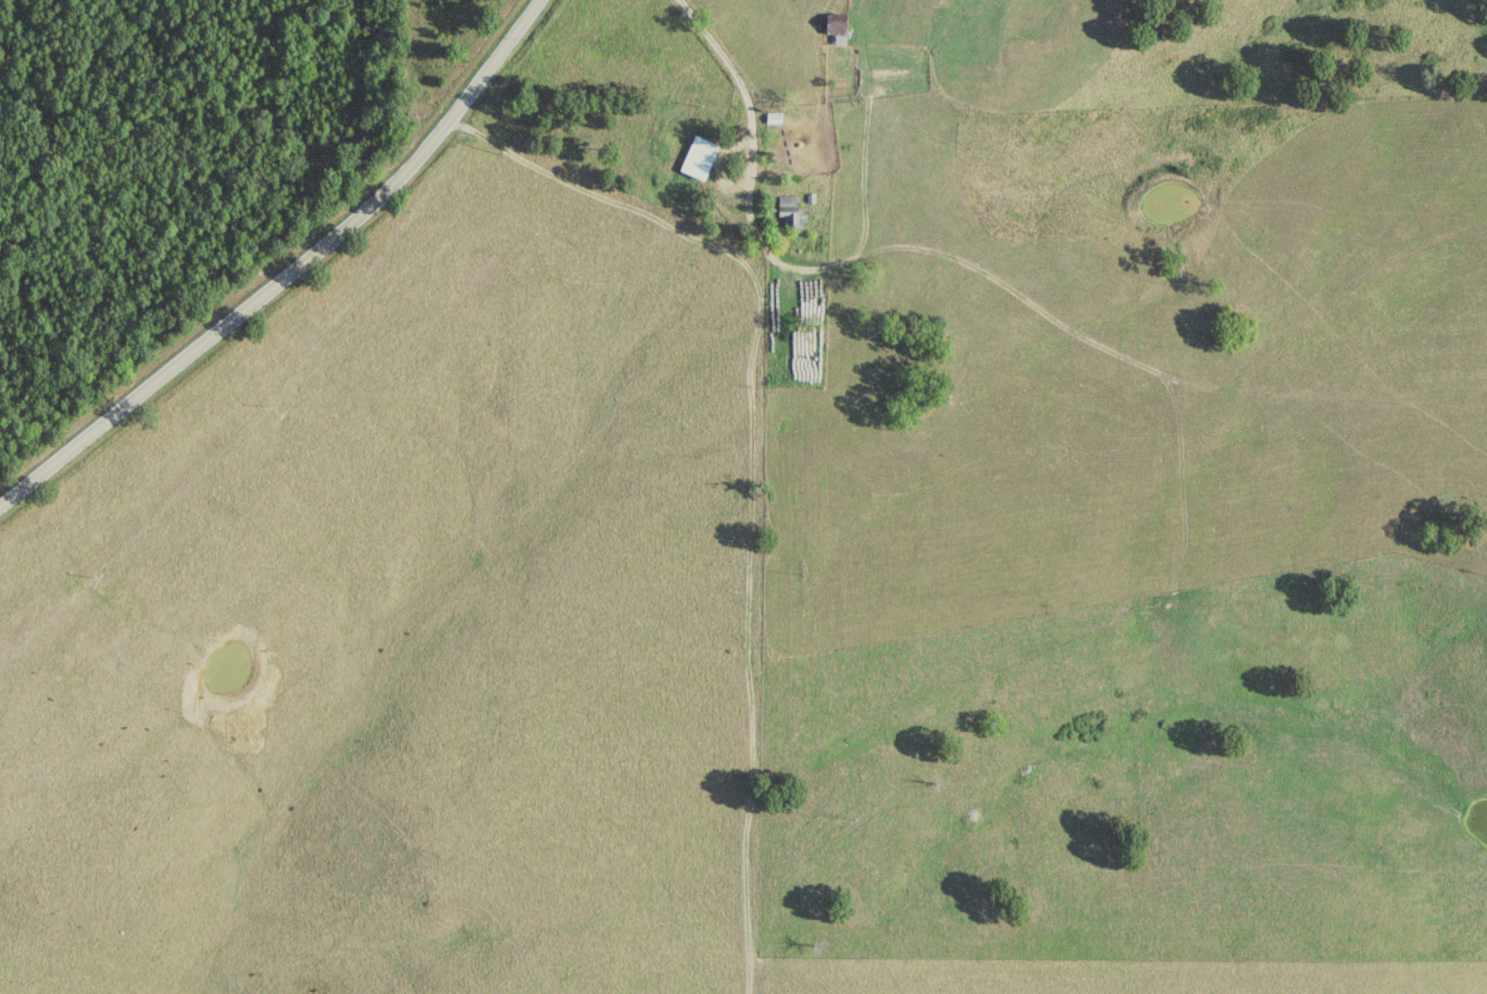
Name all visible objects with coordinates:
road: (746, 99)
building: (701, 158)
road: (270, 257)

